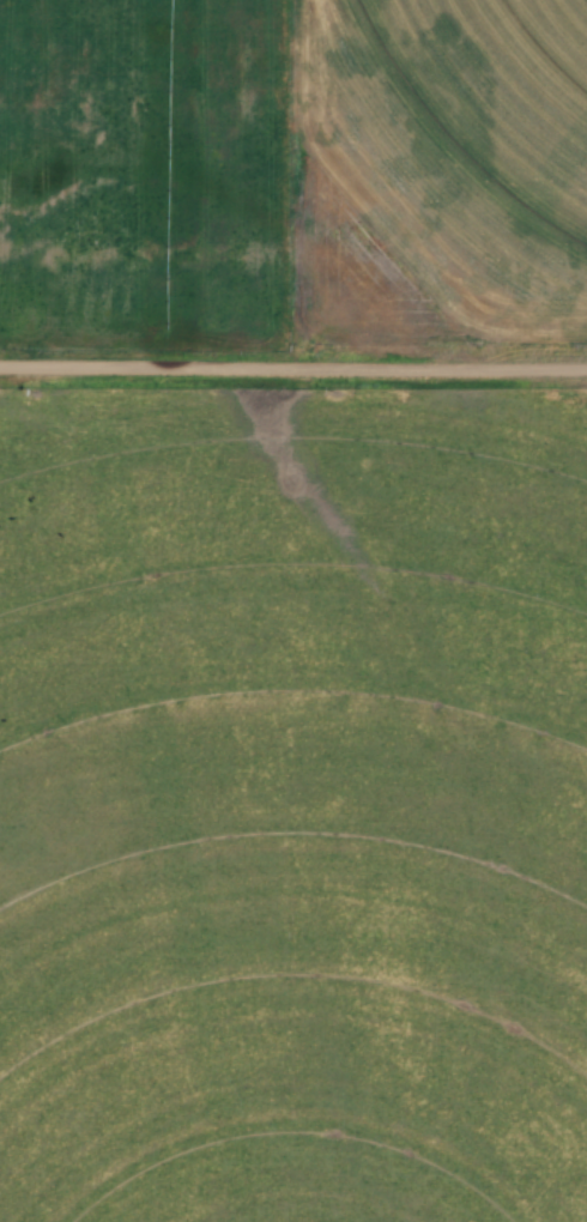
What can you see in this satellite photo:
crop: (468, 132)
road: (153, 365)
road: (447, 368)
crop: (293, 812)

